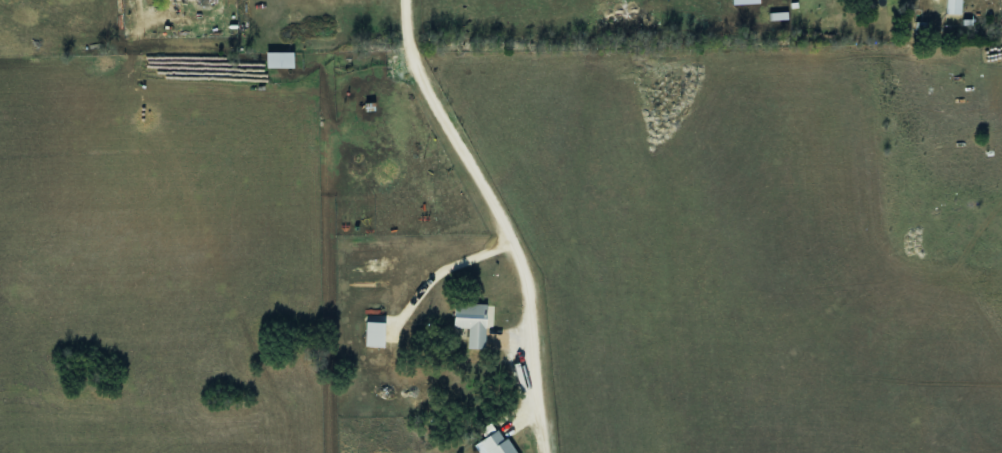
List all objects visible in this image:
building: (746, 1)
building: (953, 6)
building: (471, 321)
building: (373, 334)
building: (494, 443)

